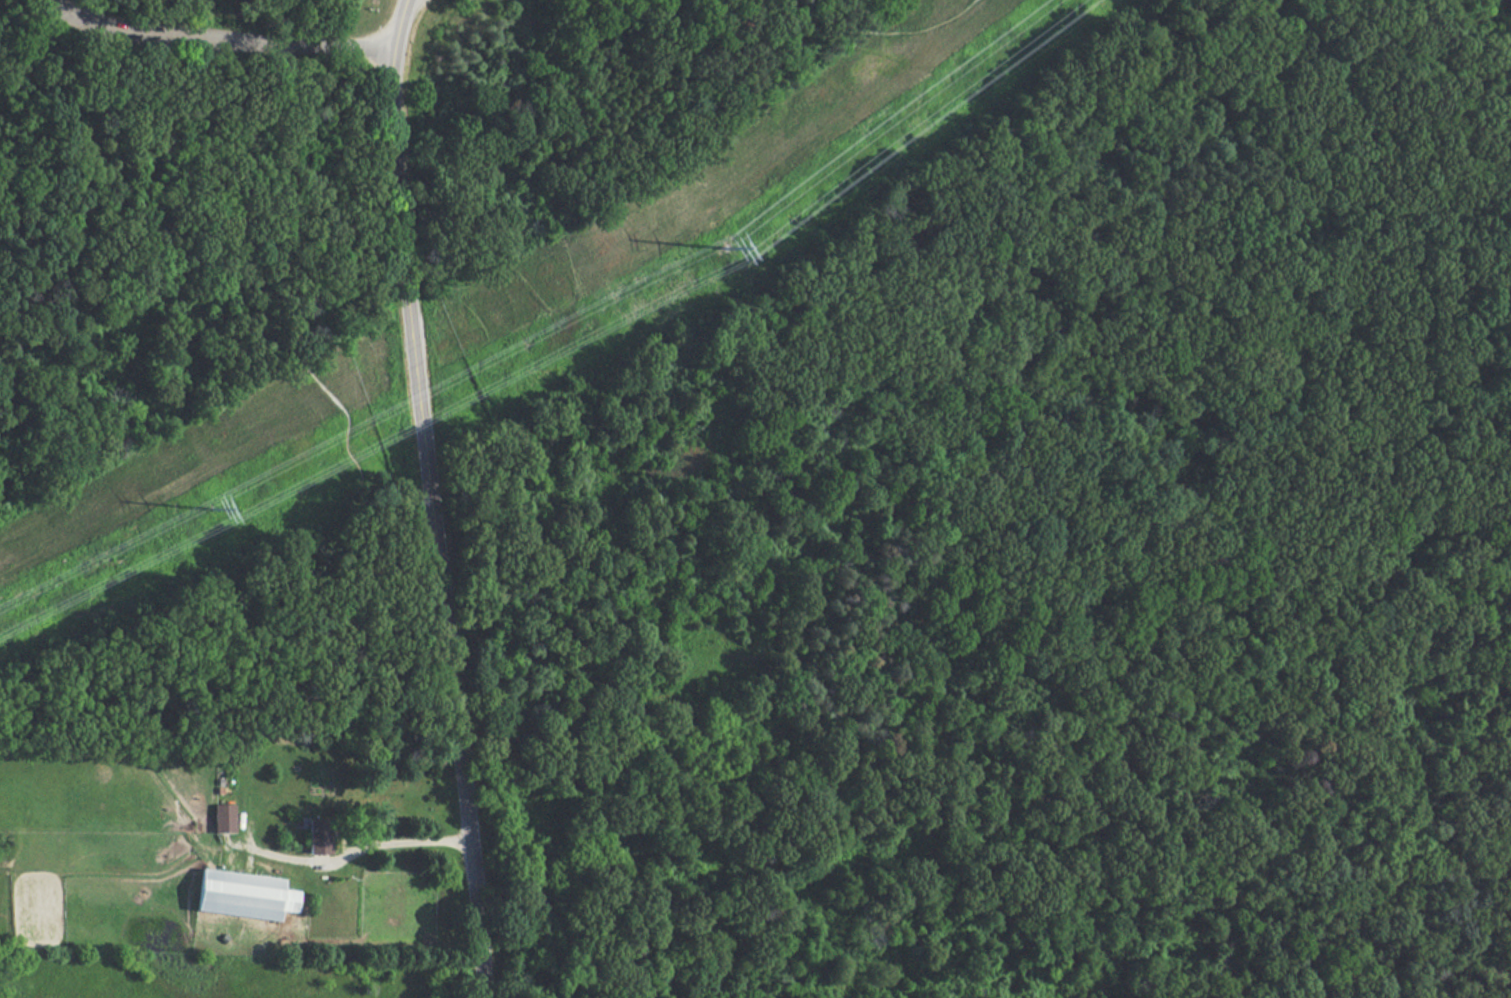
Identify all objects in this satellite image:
road: (887, 21)
road: (397, 25)
road: (217, 40)
power tower: (727, 252)
park: (801, 465)
road: (369, 487)
power tower: (212, 511)
road: (434, 525)
road: (352, 853)
building: (232, 894)

